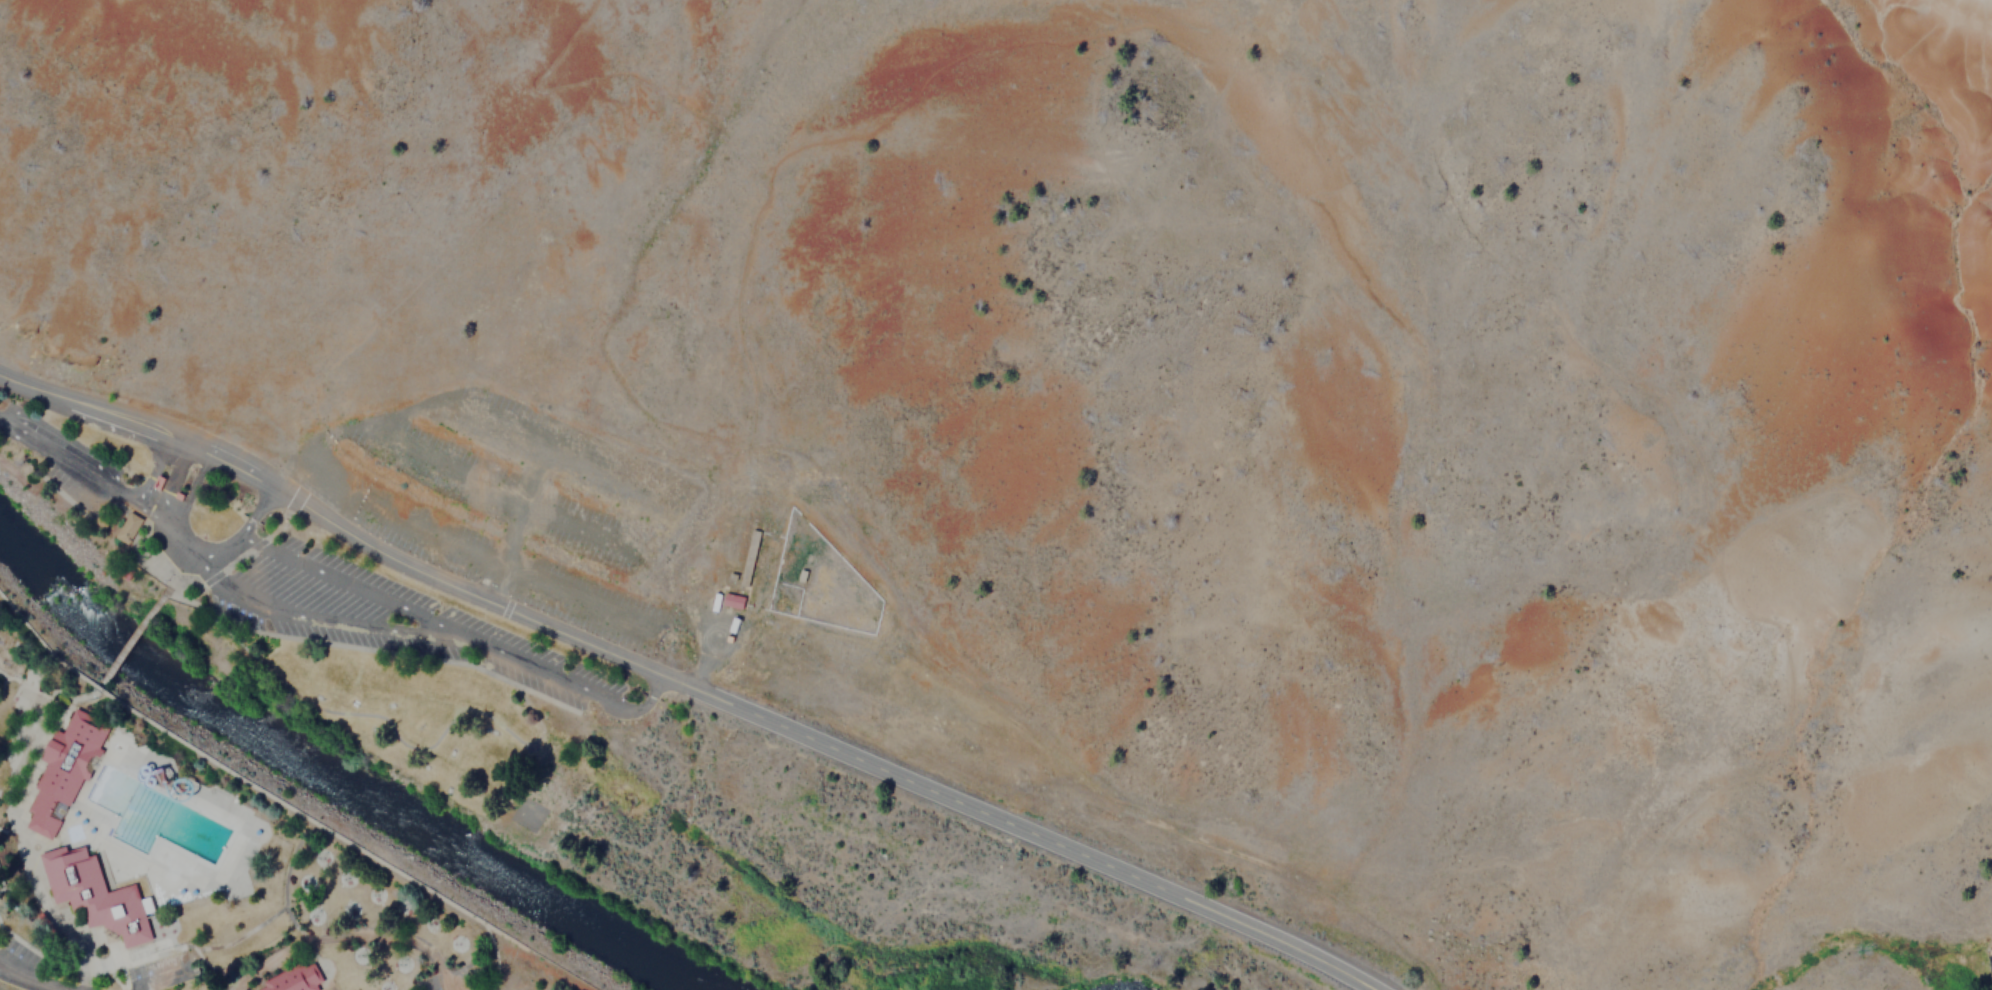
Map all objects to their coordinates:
road: (1115, 17)
road: (899, 108)
road: (691, 114)
road: (509, 191)
road: (493, 425)
road: (446, 468)
road: (286, 473)
road: (99, 475)
road: (612, 475)
building: (157, 483)
parking lot: (510, 503)
road: (521, 504)
building: (127, 528)
road: (581, 528)
road: (241, 532)
road: (167, 533)
road: (478, 551)
building: (748, 558)
road: (340, 581)
road: (186, 601)
building: (732, 602)
parking lot: (384, 619)
road: (400, 630)
road: (705, 636)
road: (133, 639)
road: (396, 651)
road: (683, 684)
road: (637, 703)
park: (395, 714)
road: (361, 715)
road: (28, 742)
building: (63, 771)
river: (329, 780)
road: (252, 787)
water park: (161, 830)
road: (34, 895)
building: (94, 896)
road: (273, 913)
road: (339, 938)
road: (307, 946)
road: (166, 950)
building: (1991, 956)
road: (462, 969)
parking lot: (158, 972)
building: (292, 978)
road: (162, 979)
road: (26, 980)
parking lot: (447, 983)
road: (446, 984)
parking lot: (523, 989)

